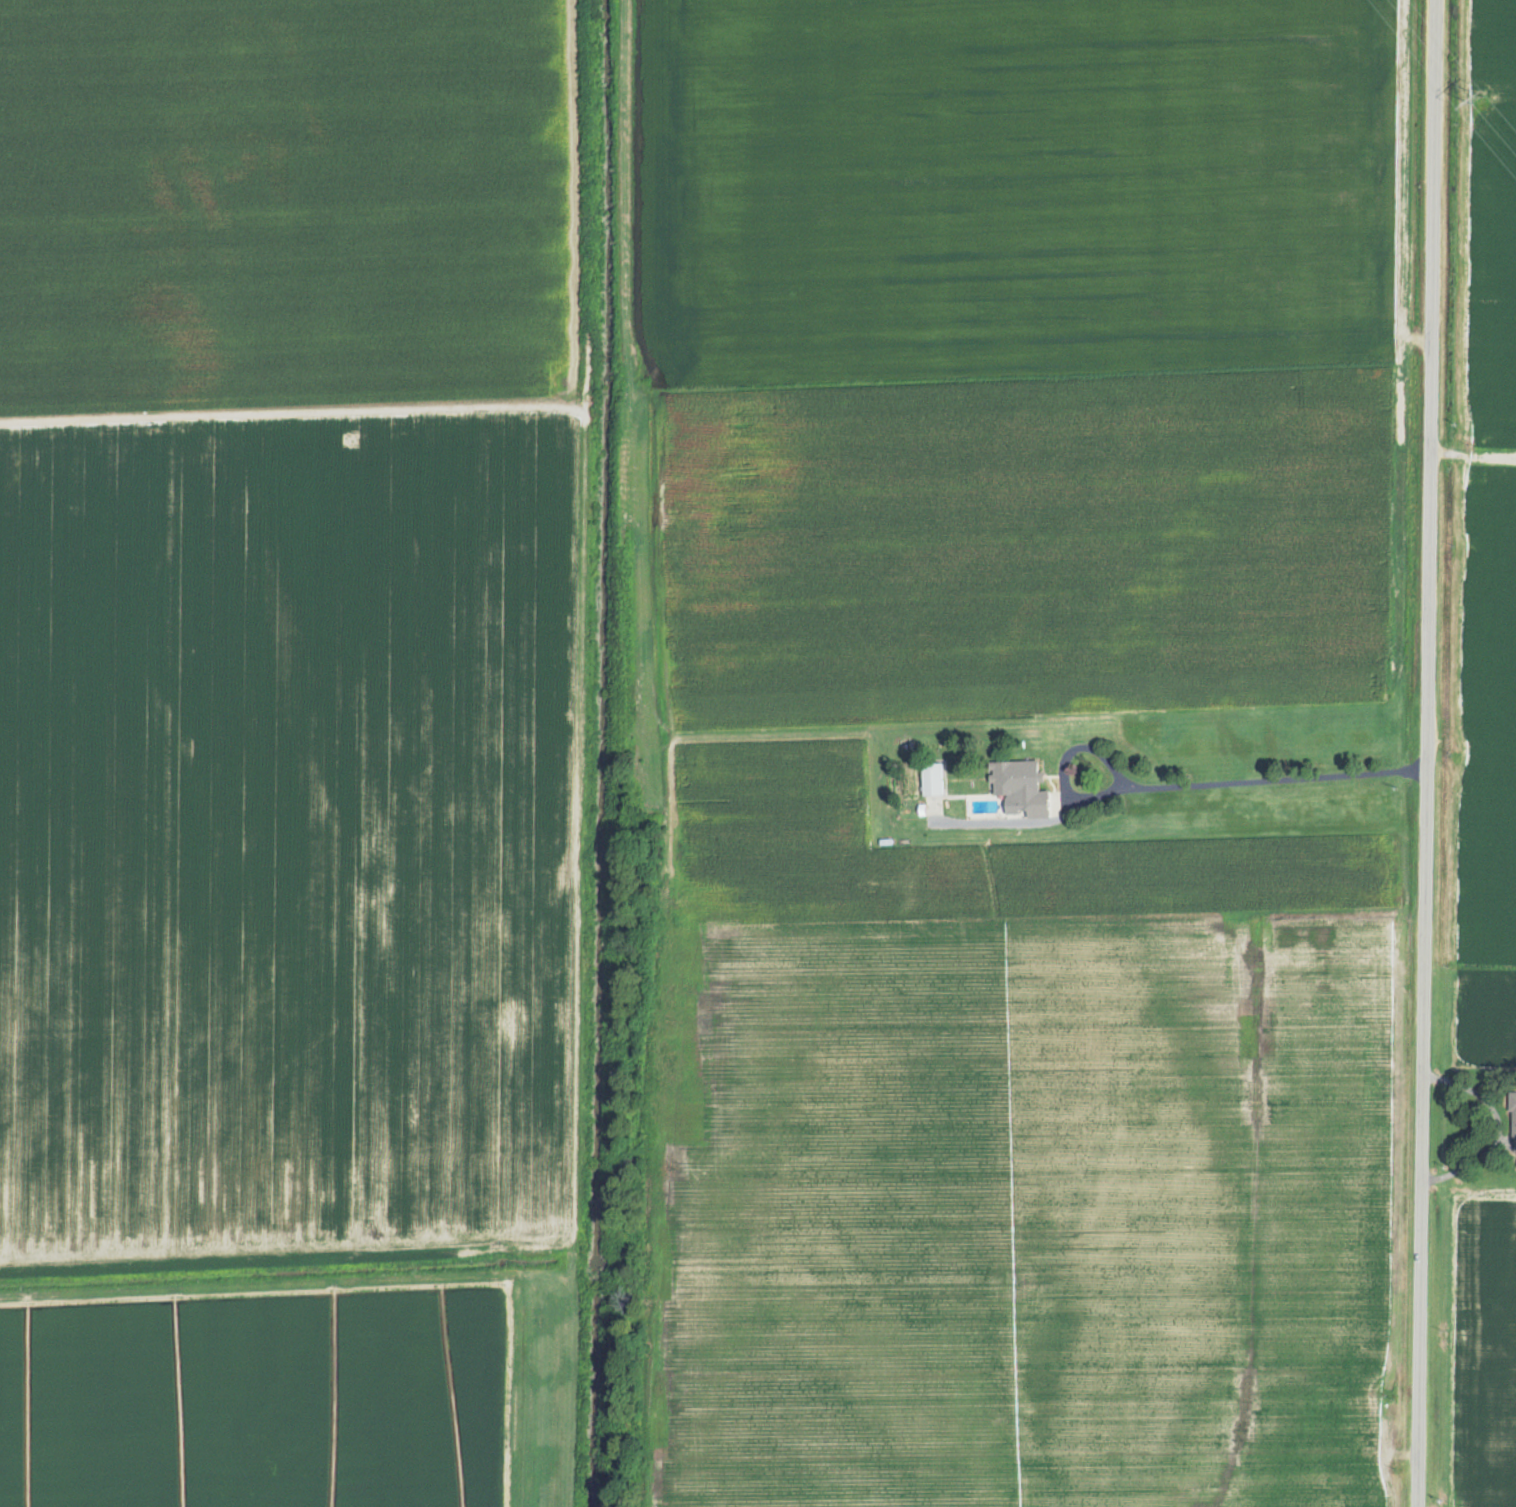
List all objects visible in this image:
power tower: (1477, 97)
road: (1425, 753)
building: (1013, 773)
building: (929, 776)
road: (1239, 779)
building: (1023, 798)
building: (1515, 1121)
road: (1506, 1127)
road: (542, 1397)

